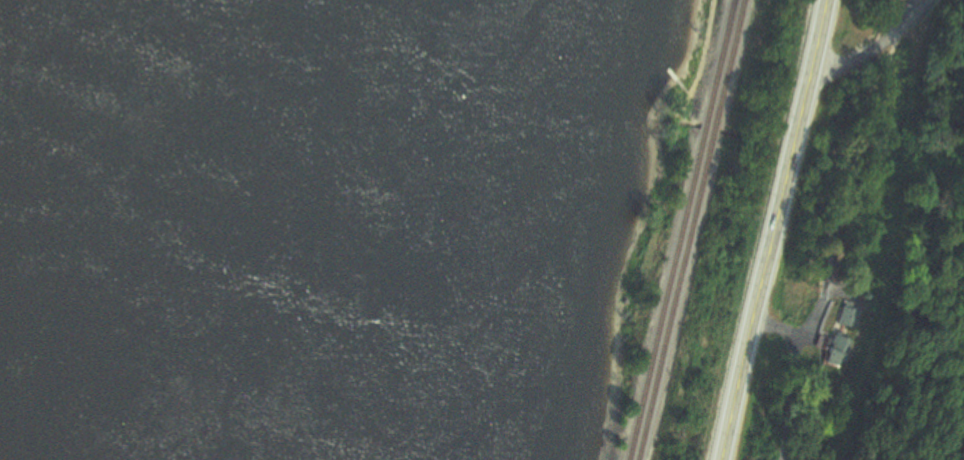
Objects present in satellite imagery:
river: (313, 9)
road: (874, 46)
railway: (676, 229)
railway: (688, 229)
road: (772, 229)
river: (286, 239)
building: (851, 316)
building: (842, 352)

